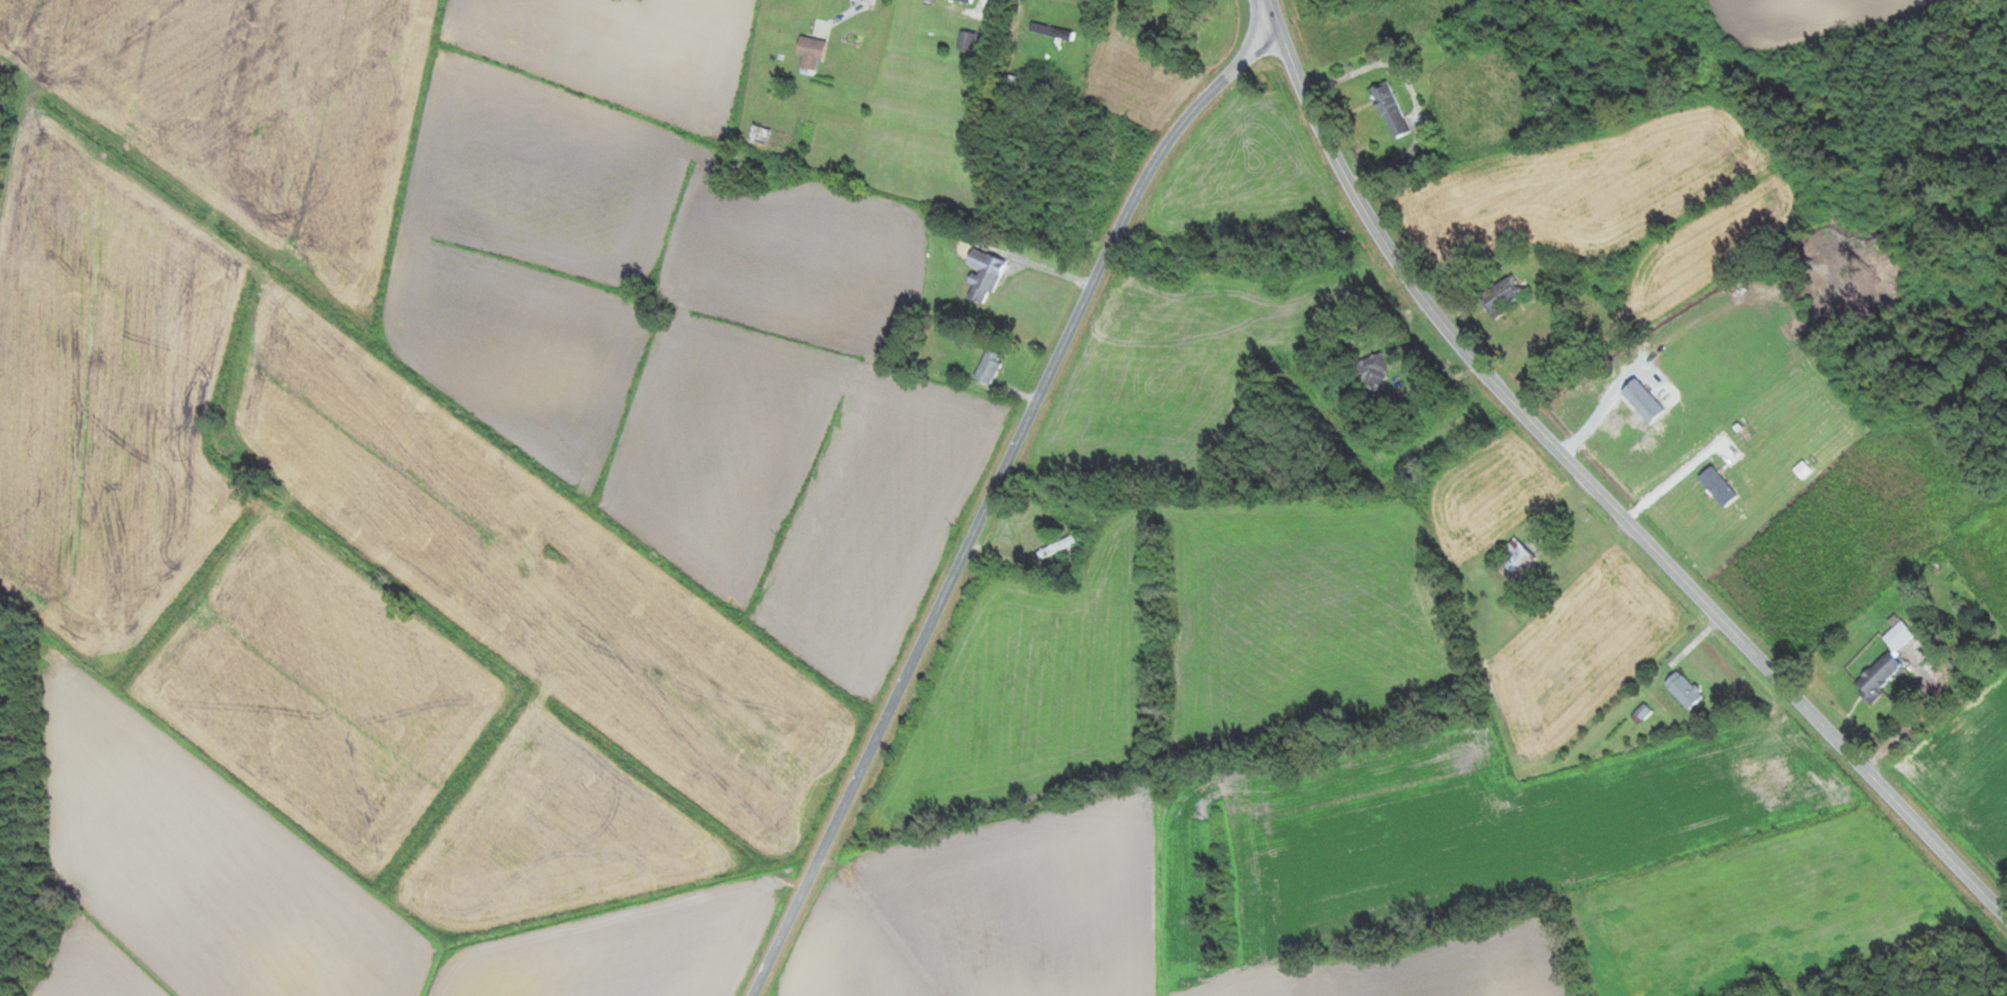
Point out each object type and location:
building: (962, 1)
building: (1049, 32)
building: (1449, 38)
building: (965, 41)
building: (807, 52)
building: (1389, 110)
building: (768, 138)
building: (1051, 183)
building: (981, 276)
building: (1501, 294)
building: (987, 366)
building: (1372, 371)
road: (1596, 486)
road: (991, 496)
building: (1062, 542)
building: (1516, 557)
building: (1897, 635)
building: (1875, 676)
building: (1681, 689)

